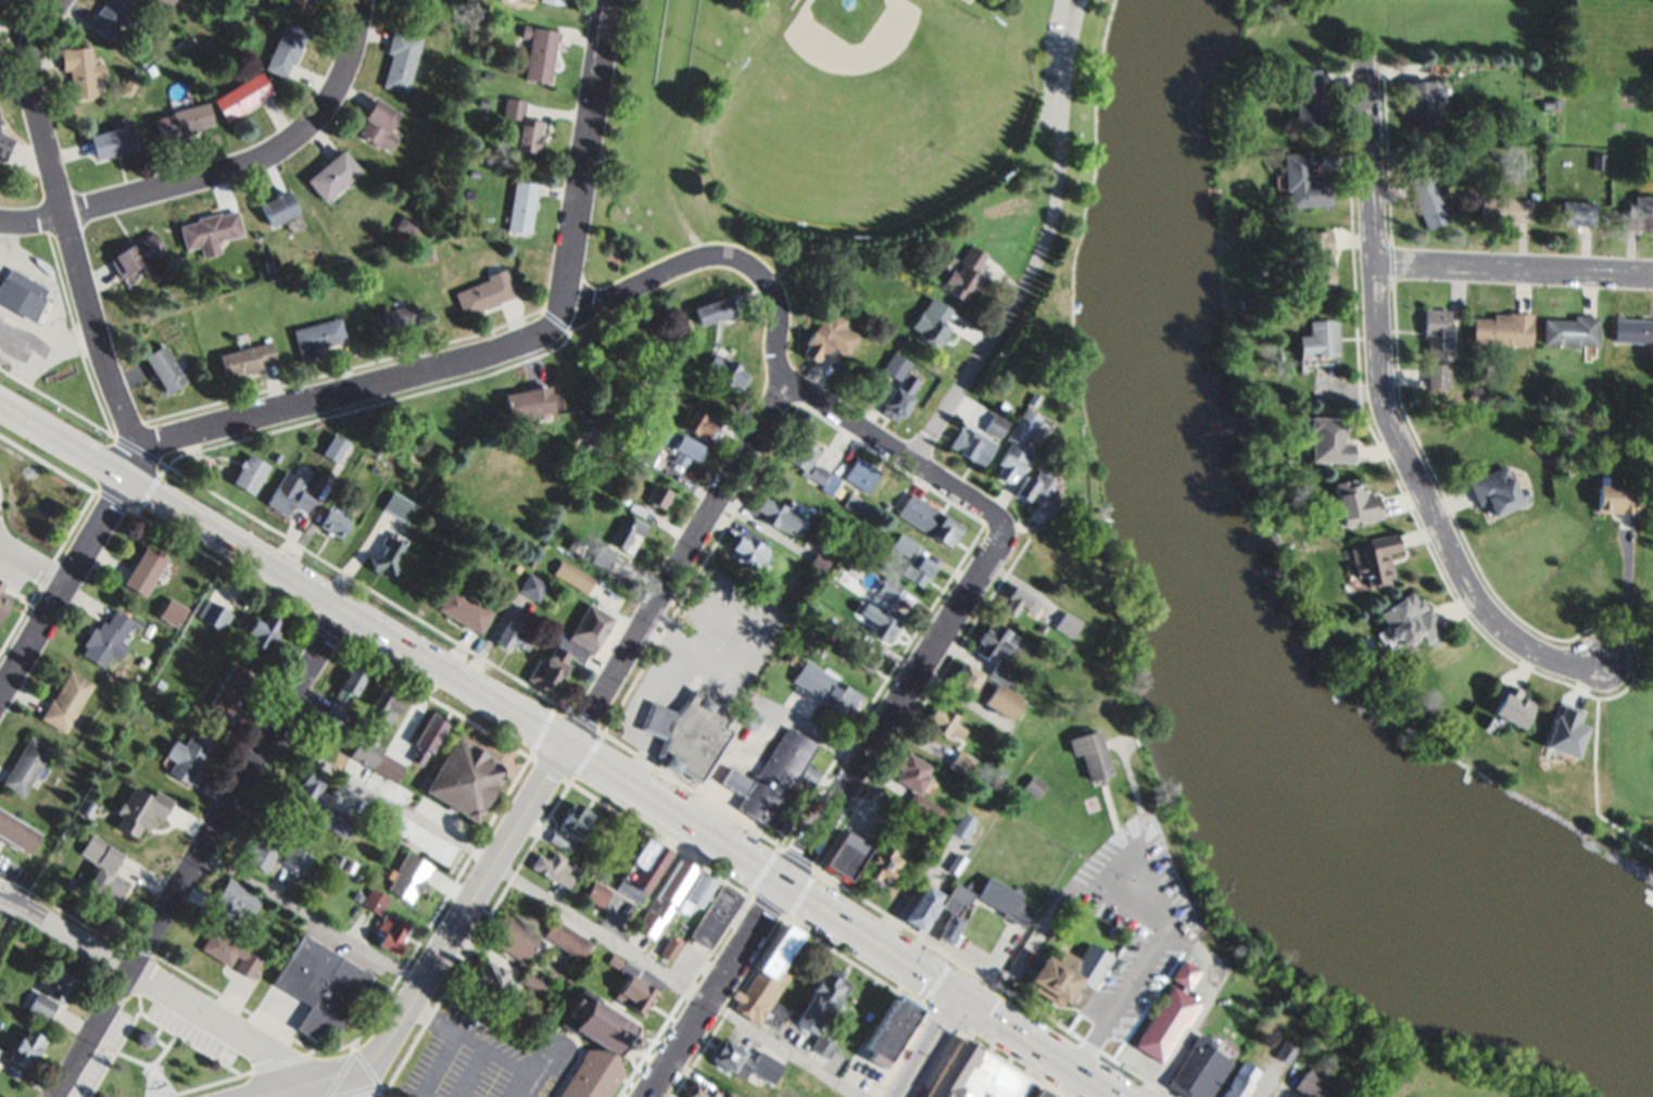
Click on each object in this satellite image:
building: (169, 1)
building: (553, 1)
building: (5, 2)
building: (162, 2)
building: (178, 3)
building: (300, 5)
building: (110, 15)
building: (286, 48)
building: (539, 50)
building: (401, 59)
building: (144, 62)
building: (83, 71)
building: (487, 74)
building: (242, 96)
building: (1307, 97)
building: (483, 101)
building: (1549, 102)
building: (1423, 104)
park: (865, 112)
building: (184, 122)
park: (813, 124)
building: (379, 125)
building: (521, 126)
building: (112, 141)
building: (4, 144)
building: (1598, 161)
road: (227, 171)
building: (333, 176)
building: (1303, 182)
building: (1428, 200)
building: (279, 206)
building: (521, 206)
building: (1505, 209)
building: (1577, 213)
building: (1639, 213)
building: (293, 224)
building: (408, 224)
road: (68, 225)
building: (211, 231)
road: (1044, 248)
building: (139, 257)
building: (1316, 260)
building: (900, 267)
road: (1515, 268)
building: (966, 276)
building: (846, 277)
building: (485, 292)
building: (21, 294)
building: (711, 310)
building: (395, 321)
building: (930, 325)
building: (7, 328)
building: (1503, 328)
building: (1633, 329)
building: (1570, 330)
building: (1436, 331)
building: (316, 338)
building: (825, 338)
building: (1318, 340)
road: (509, 345)
building: (245, 360)
building: (894, 366)
building: (164, 368)
building: (722, 370)
building: (1437, 376)
building: (608, 382)
building: (898, 398)
building: (1031, 401)
building: (528, 403)
road: (1387, 411)
building: (701, 424)
road: (762, 426)
building: (994, 426)
building: (1633, 427)
building: (1328, 440)
building: (676, 443)
building: (1015, 445)
building: (972, 446)
road: (894, 451)
building: (608, 454)
building: (585, 455)
building: (806, 459)
road: (134, 461)
building: (374, 467)
building: (327, 468)
building: (250, 472)
building: (860, 474)
building: (1498, 489)
building: (1037, 491)
building: (290, 493)
building: (657, 494)
building: (1615, 496)
building: (622, 497)
building: (1354, 501)
building: (853, 503)
building: (399, 505)
building: (636, 507)
building: (885, 507)
building: (772, 512)
building: (929, 517)
building: (333, 521)
building: (627, 531)
building: (901, 542)
building: (747, 548)
building: (601, 553)
building: (386, 554)
building: (1374, 558)
building: (818, 560)
road: (34, 564)
building: (516, 566)
building: (144, 568)
building: (918, 568)
building: (572, 573)
building: (1, 582)
building: (531, 584)
building: (887, 587)
road: (65, 588)
building: (1019, 597)
building: (3, 600)
road: (1627, 603)
building: (464, 607)
building: (213, 613)
building: (881, 618)
building: (1406, 619)
building: (1065, 622)
building: (1039, 627)
building: (262, 629)
river: (1226, 630)
building: (512, 633)
building: (106, 636)
building: (995, 639)
building: (570, 645)
building: (860, 652)
road: (721, 671)
building: (1001, 672)
building: (968, 680)
building: (824, 686)
building: (231, 689)
road: (483, 691)
building: (344, 692)
building: (998, 695)
building: (66, 701)
building: (386, 701)
building: (1511, 705)
road: (896, 710)
building: (750, 716)
building: (943, 719)
building: (326, 729)
building: (687, 732)
building: (427, 736)
building: (364, 749)
building: (1089, 753)
building: (187, 755)
building: (960, 761)
building: (26, 765)
building: (388, 767)
building: (774, 774)
building: (808, 774)
building: (465, 778)
building: (735, 780)
building: (916, 783)
building: (1033, 784)
building: (308, 787)
building: (88, 807)
building: (140, 809)
building: (785, 812)
building: (575, 818)
building: (338, 821)
building: (962, 823)
building: (15, 831)
building: (560, 841)
building: (418, 842)
park: (1619, 844)
road: (194, 848)
building: (100, 850)
building: (262, 852)
building: (441, 852)
building: (845, 854)
building: (338, 858)
building: (955, 861)
building: (349, 863)
building: (879, 865)
building: (555, 868)
building: (641, 871)
building: (407, 874)
building: (104, 882)
building: (908, 884)
building: (596, 893)
building: (357, 896)
building: (695, 896)
building: (376, 899)
building: (231, 900)
building: (667, 900)
building: (1004, 900)
building: (921, 905)
building: (952, 909)
road: (565, 910)
road: (310, 917)
building: (716, 918)
building: (391, 931)
building: (512, 937)
building: (566, 937)
building: (670, 949)
building: (228, 950)
road: (445, 951)
building: (1067, 973)
building: (490, 980)
building: (531, 980)
building: (767, 981)
building: (63, 983)
building: (319, 983)
road: (155, 984)
building: (631, 985)
road: (717, 991)
traffic signals: (960, 996)
building: (1137, 996)
building: (822, 997)
building: (41, 1005)
building: (1212, 1012)
building: (1166, 1014)
building: (596, 1022)
building: (888, 1029)
building: (509, 1043)
building: (822, 1045)
building: (27, 1046)
road: (930, 1046)
road: (1037, 1046)
building: (1285, 1048)
building: (0, 1049)
park: (167, 1051)
building: (745, 1060)
building: (1197, 1069)
building: (976, 1074)
building: (590, 1077)
building: (1238, 1080)
building: (1311, 1083)
road: (355, 1086)
building: (698, 1089)
building: (1040, 1093)
building: (732, 1094)
road: (288, 1095)
building: (1408, 1096)

